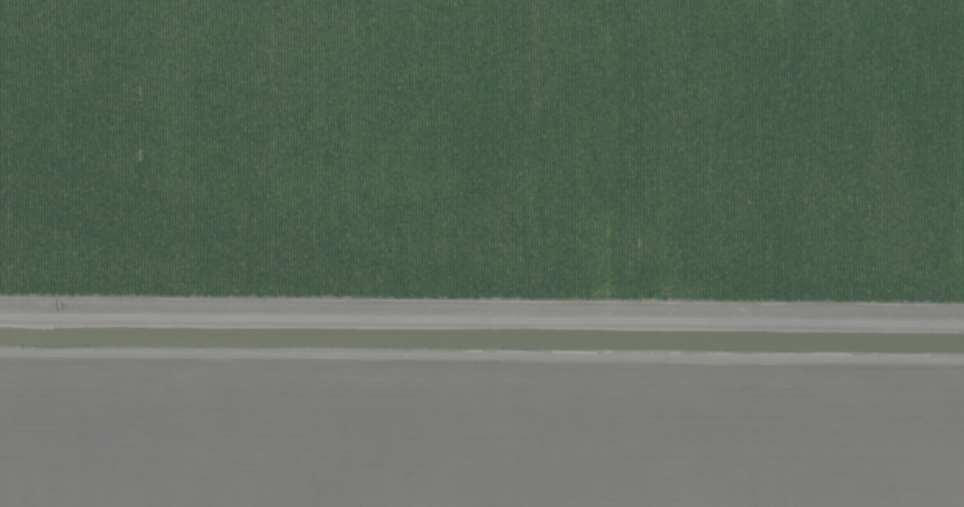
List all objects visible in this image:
crop: (482, 253)
road: (482, 393)

